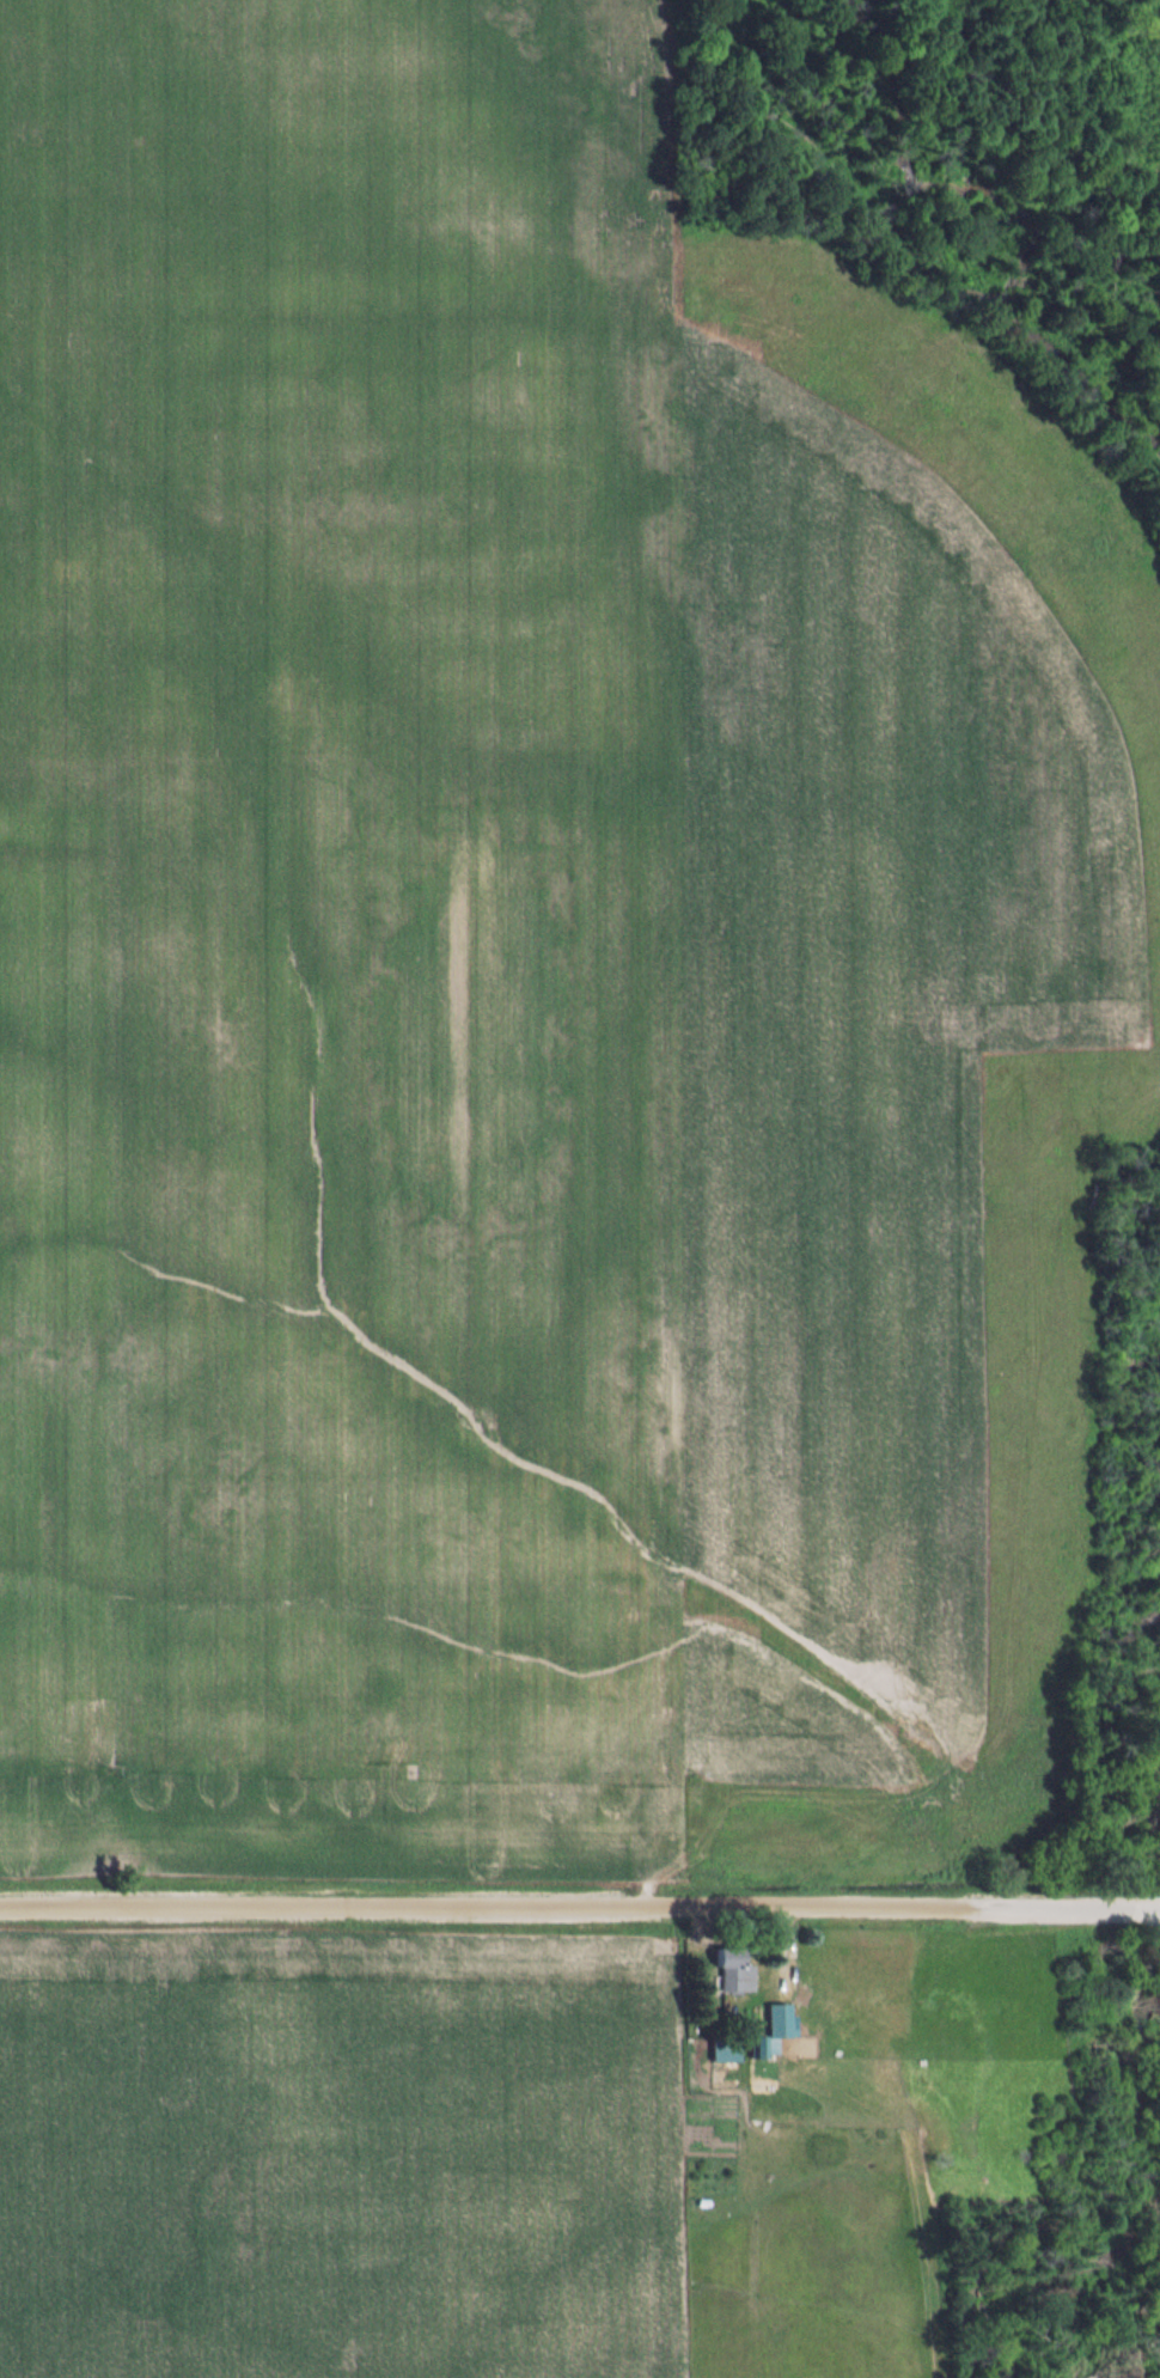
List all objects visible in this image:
road: (580, 1910)
building: (734, 1972)
building: (776, 2031)
building: (726, 2051)

